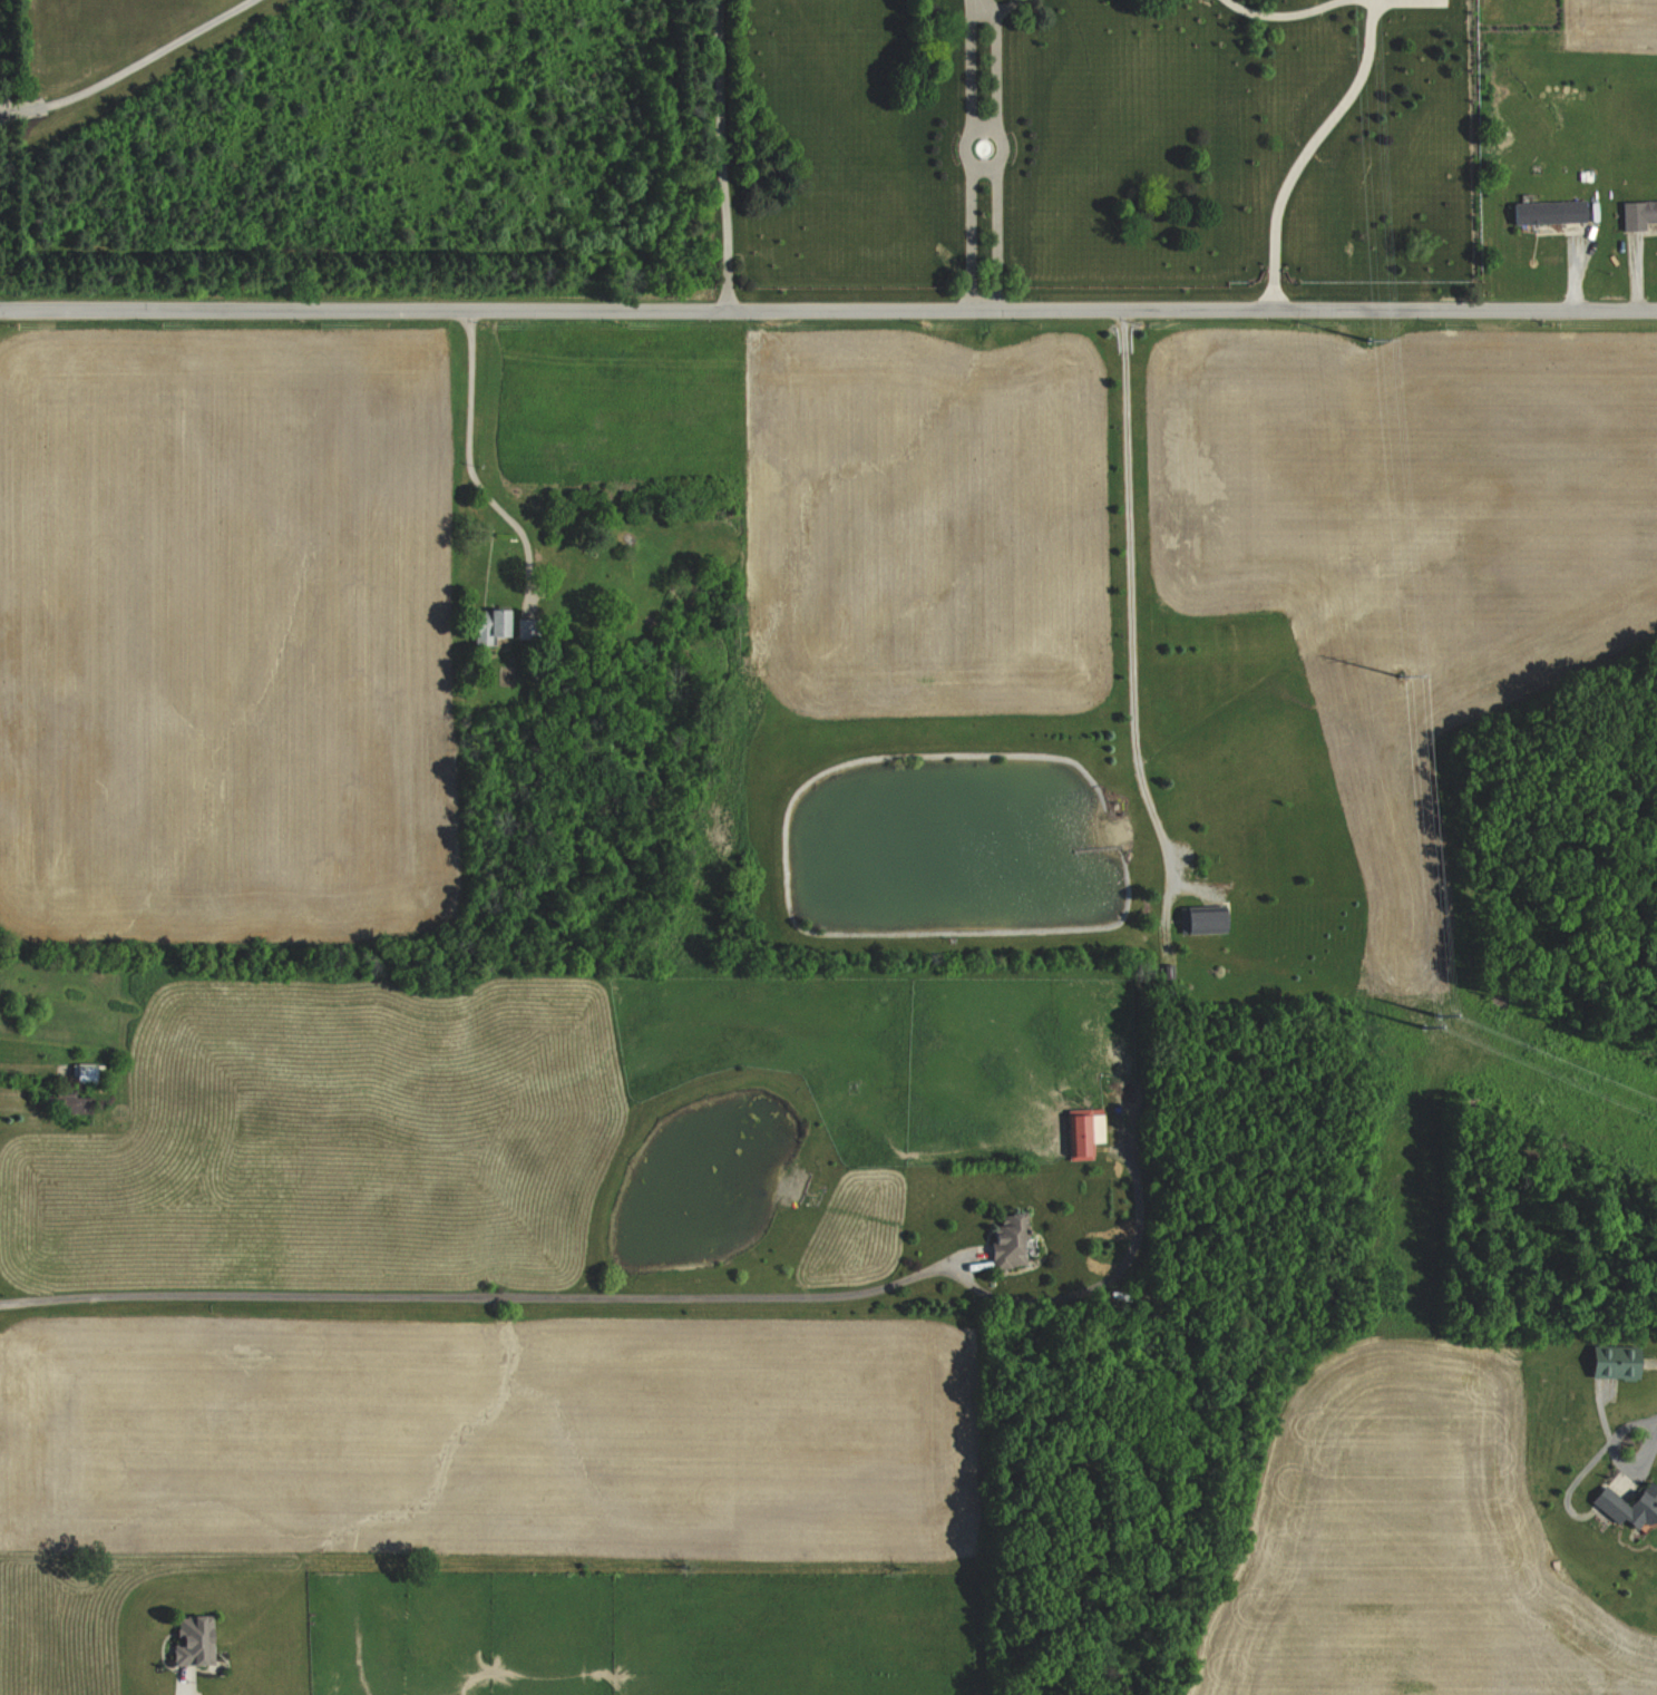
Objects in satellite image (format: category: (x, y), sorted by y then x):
road: (978, 9)
road: (996, 9)
road: (1286, 12)
road: (123, 64)
road: (1307, 149)
road: (722, 155)
road: (976, 163)
building: (1639, 210)
road: (828, 310)
power tower: (1366, 335)
road: (469, 454)
road: (1128, 592)
building: (497, 625)
building: (525, 630)
power tower: (1395, 670)
building: (1208, 919)
power tower: (1421, 1020)
building: (87, 1073)
building: (68, 1102)
building: (1086, 1132)
building: (1012, 1241)
road: (483, 1297)
road: (1651, 1365)
road: (1647, 1445)
building: (197, 1639)
road: (185, 1689)

